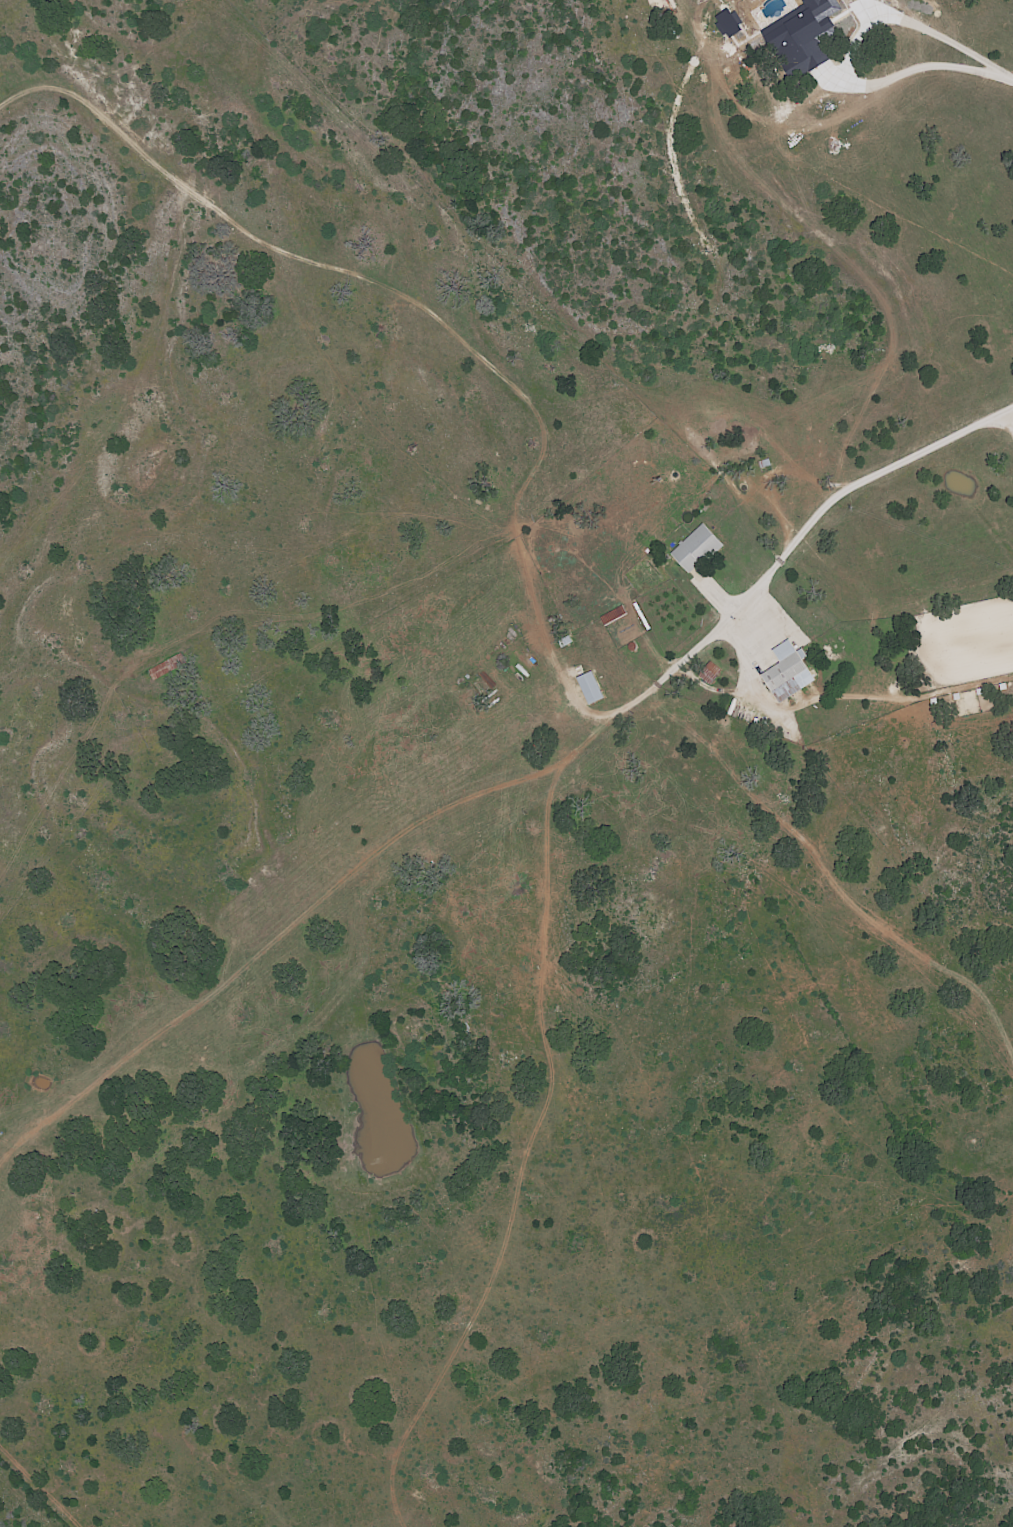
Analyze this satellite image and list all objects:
building: (803, 36)
road: (846, 51)
road: (1010, 80)
road: (1009, 420)
road: (804, 530)
building: (695, 548)
building: (786, 672)
building: (589, 688)

